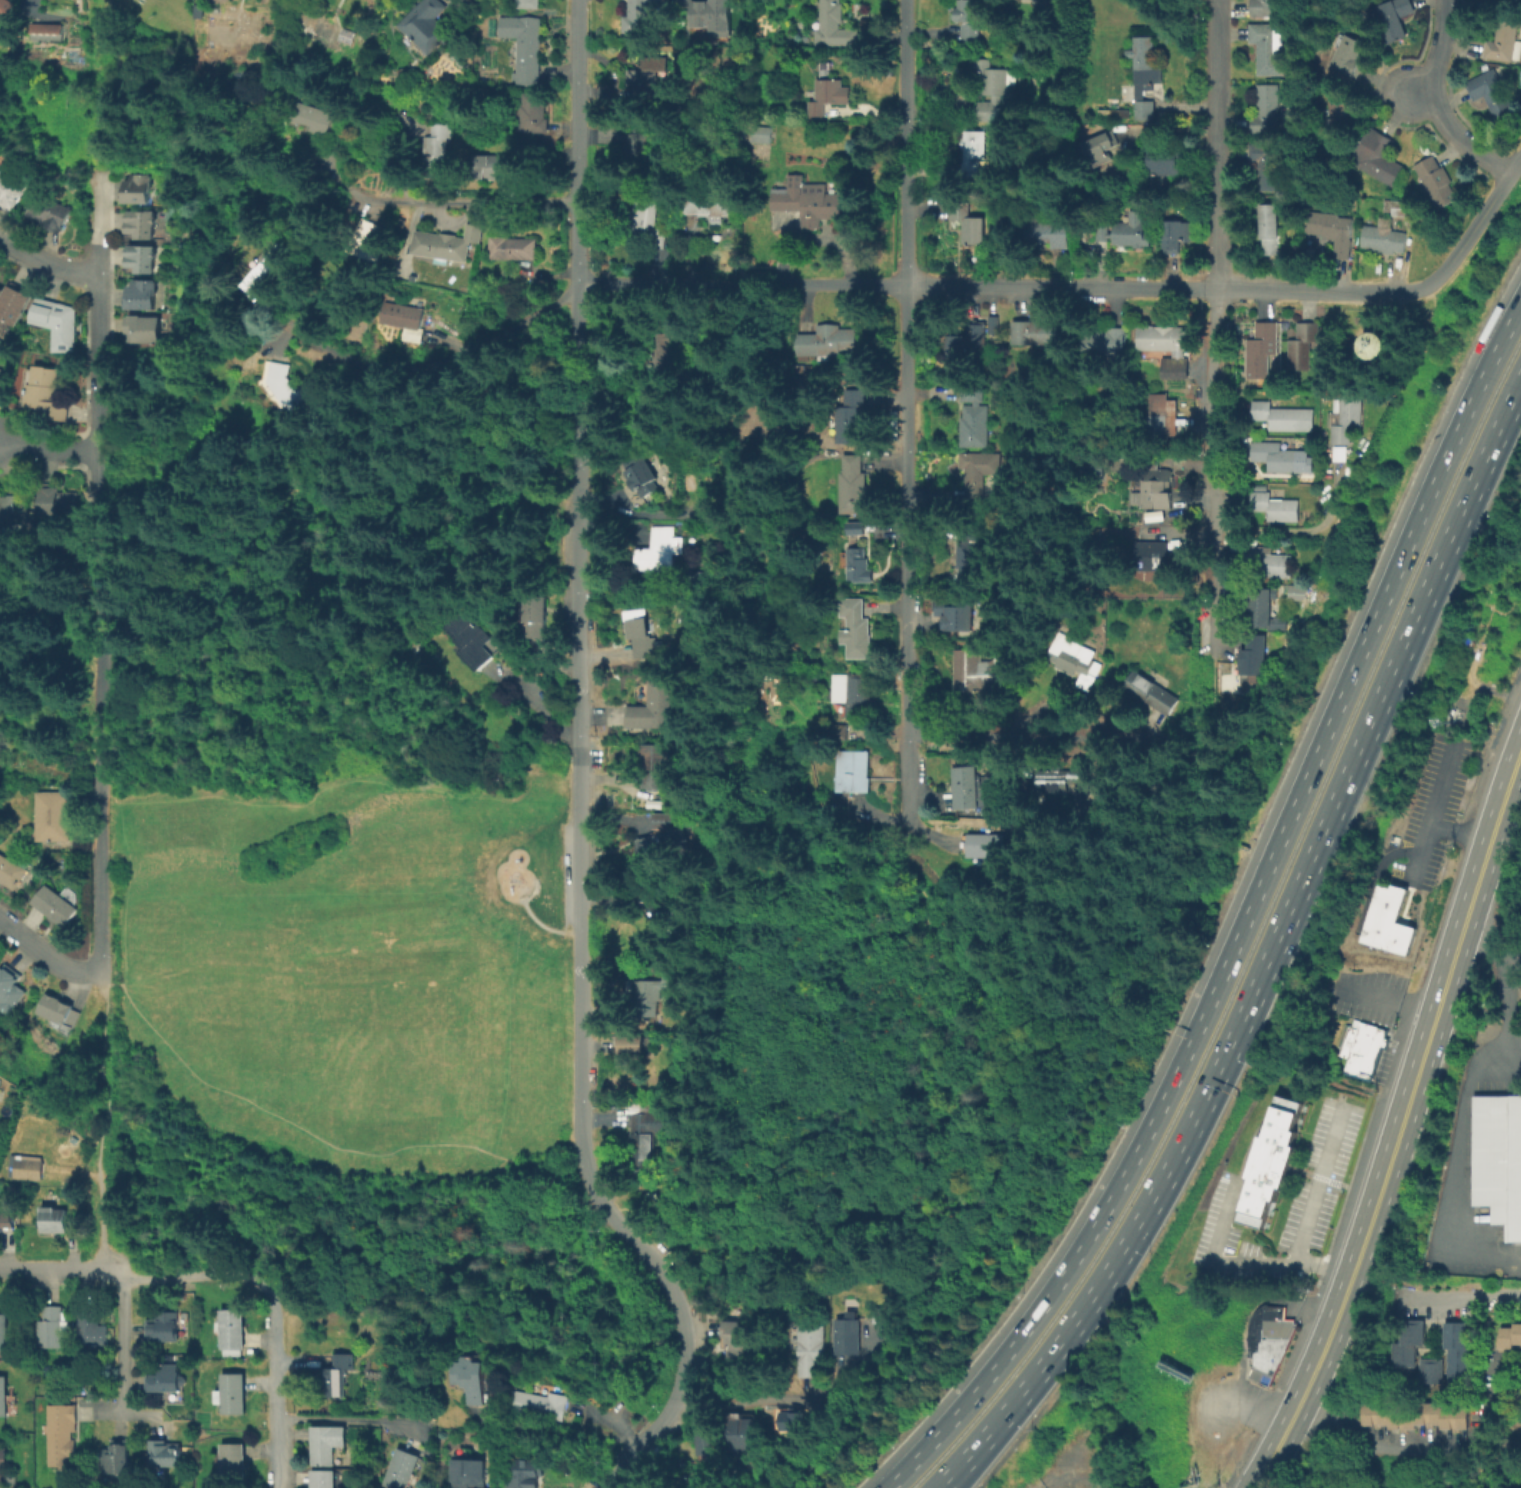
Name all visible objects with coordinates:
building: (2, 3)
building: (529, 4)
building: (1050, 8)
building: (1267, 8)
building: (215, 11)
building: (710, 16)
building: (637, 18)
building: (970, 19)
building: (1401, 19)
building: (429, 24)
building: (833, 26)
building: (49, 32)
building: (1506, 36)
building: (525, 46)
building: (1270, 48)
building: (1352, 53)
building: (1146, 75)
building: (650, 78)
building: (991, 85)
road: (1422, 91)
building: (1495, 94)
building: (832, 95)
road: (1441, 102)
building: (1345, 110)
building: (1267, 111)
building: (1117, 113)
building: (529, 115)
building: (315, 117)
building: (762, 135)
building: (634, 141)
road: (904, 142)
road: (1217, 144)
building: (437, 146)
building: (1101, 147)
building: (973, 151)
building: (1380, 156)
building: (1166, 158)
building: (505, 164)
building: (1268, 165)
building: (1440, 181)
building: (11, 191)
building: (139, 191)
road: (470, 200)
building: (807, 200)
building: (710, 202)
building: (1398, 207)
building: (51, 213)
building: (647, 222)
building: (967, 223)
road: (1477, 223)
road: (99, 224)
building: (142, 227)
building: (1273, 229)
building: (373, 230)
building: (1126, 231)
building: (1335, 231)
building: (1047, 232)
building: (1179, 235)
road: (811, 236)
building: (1384, 238)
building: (451, 243)
building: (515, 248)
building: (142, 261)
road: (47, 262)
building: (270, 268)
road: (740, 283)
road: (1061, 286)
road: (1323, 290)
building: (141, 296)
building: (13, 304)
road: (99, 312)
building: (409, 316)
building: (57, 323)
building: (992, 325)
building: (144, 332)
building: (1038, 332)
building: (969, 341)
building: (1105, 341)
building: (829, 342)
building: (1375, 344)
storage tank: (1375, 344)
building: (1304, 345)
building: (673, 348)
building: (1168, 349)
building: (1262, 349)
building: (1344, 355)
building: (239, 360)
building: (807, 369)
road: (440, 371)
building: (1, 373)
water tower: (1344, 381)
building: (292, 391)
building: (45, 392)
building: (1277, 416)
building: (855, 417)
building: (973, 418)
building: (1163, 419)
building: (1350, 420)
road: (48, 448)
road: (98, 455)
building: (1278, 457)
building: (1094, 467)
building: (640, 473)
building: (978, 473)
road: (1215, 473)
road: (387, 479)
building: (854, 487)
building: (1156, 491)
building: (59, 502)
building: (14, 506)
building: (1279, 507)
building: (856, 529)
road: (1304, 530)
building: (661, 550)
road: (906, 555)
building: (971, 556)
building: (1157, 556)
building: (1273, 562)
building: (858, 564)
building: (704, 579)
building: (1299, 593)
building: (1265, 608)
building: (956, 615)
building: (541, 618)
building: (857, 629)
building: (641, 634)
building: (470, 640)
building: (1079, 655)
building: (1259, 656)
park: (42, 666)
building: (982, 672)
building: (854, 693)
building: (1155, 693)
building: (654, 706)
road: (993, 731)
road: (99, 765)
building: (657, 765)
road: (580, 772)
building: (856, 772)
building: (1059, 785)
building: (968, 789)
building: (1022, 789)
road: (1432, 806)
building: (55, 819)
building: (665, 819)
road: (1457, 832)
park: (340, 845)
building: (665, 846)
building: (991, 846)
building: (13, 871)
road: (913, 872)
building: (55, 908)
building: (670, 911)
road: (1244, 916)
building: (1388, 919)
road: (535, 921)
road: (851, 945)
road: (1268, 952)
road: (45, 957)
road: (100, 977)
building: (674, 982)
road: (106, 985)
road: (115, 986)
road: (1505, 988)
building: (10, 991)
building: (646, 996)
road: (1381, 1003)
building: (57, 1011)
building: (1359, 1046)
building: (637, 1047)
road: (102, 1064)
road: (1397, 1126)
building: (645, 1133)
road: (339, 1150)
building: (1499, 1158)
building: (1269, 1161)
building: (27, 1169)
road: (1457, 1171)
road: (1315, 1185)
road: (103, 1211)
road: (609, 1212)
building: (5, 1219)
building: (55, 1222)
road: (1341, 1249)
road: (1235, 1266)
road: (61, 1270)
road: (195, 1276)
road: (1463, 1300)
building: (881, 1312)
building: (91, 1327)
building: (52, 1329)
building: (165, 1329)
building: (233, 1329)
building: (5, 1334)
building: (848, 1335)
building: (1509, 1335)
building: (736, 1339)
building: (1266, 1340)
building: (1407, 1341)
road: (122, 1343)
building: (810, 1348)
building: (1457, 1353)
building: (1430, 1370)
building: (338, 1376)
building: (470, 1377)
building: (166, 1381)
road: (274, 1387)
building: (234, 1396)
building: (4, 1399)
road: (748, 1403)
building: (540, 1404)
building: (1415, 1415)
road: (345, 1418)
building: (1518, 1419)
building: (793, 1420)
building: (739, 1432)
building: (63, 1437)
road: (1421, 1440)
building: (707, 1442)
building: (328, 1443)
building: (165, 1455)
building: (117, 1461)
building: (233, 1463)
road: (727, 1470)
building: (406, 1471)
building: (526, 1472)
building: (6, 1473)
building: (473, 1473)
building: (326, 1479)
road: (1062, 1479)

